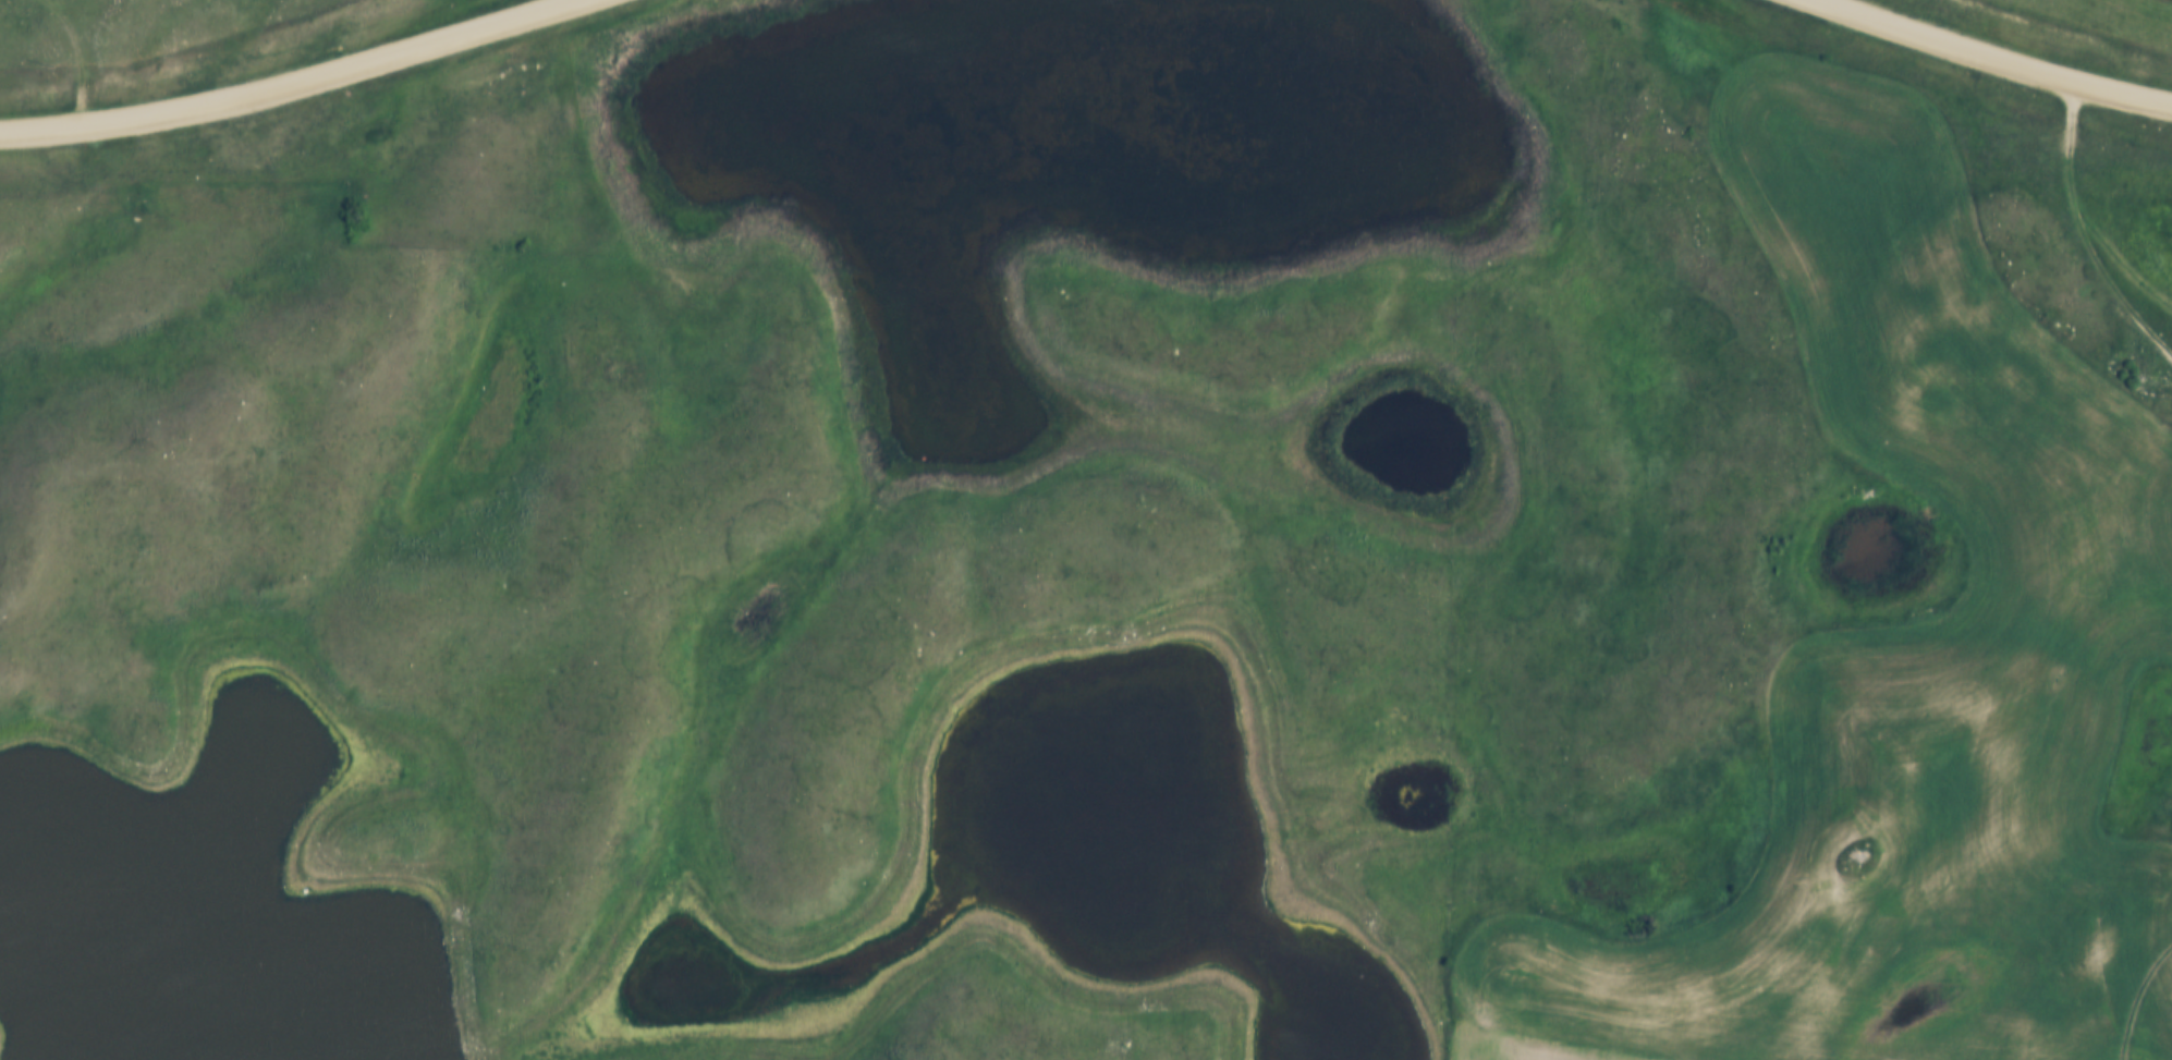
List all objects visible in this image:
road: (1994, 54)
road: (298, 74)
road: (2072, 180)

